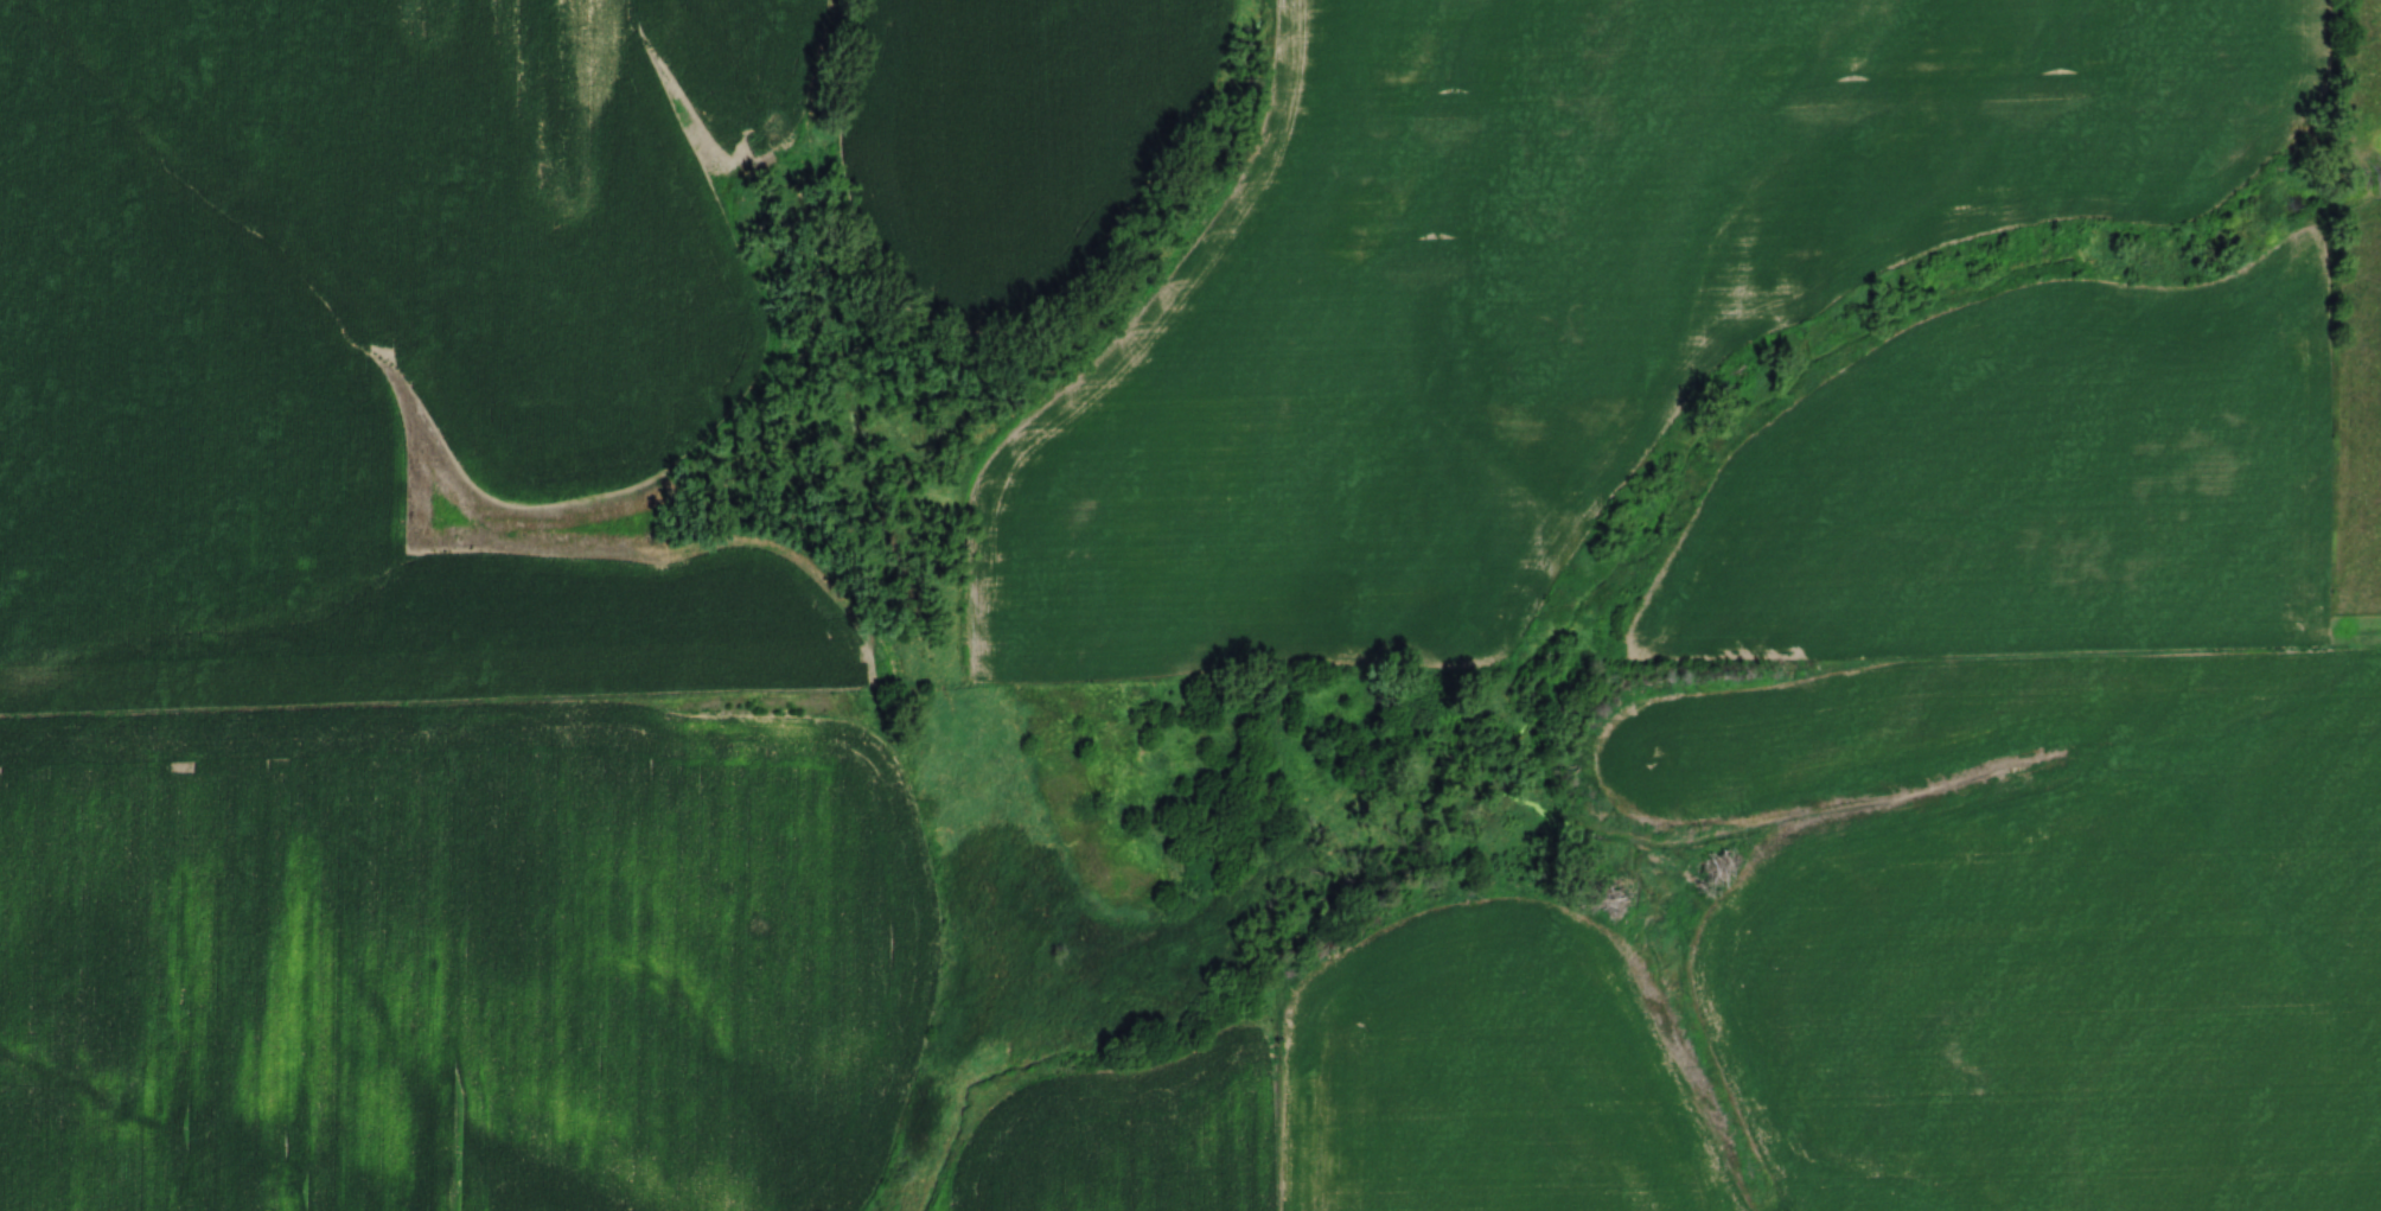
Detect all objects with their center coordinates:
crop: (1128, 1135)

